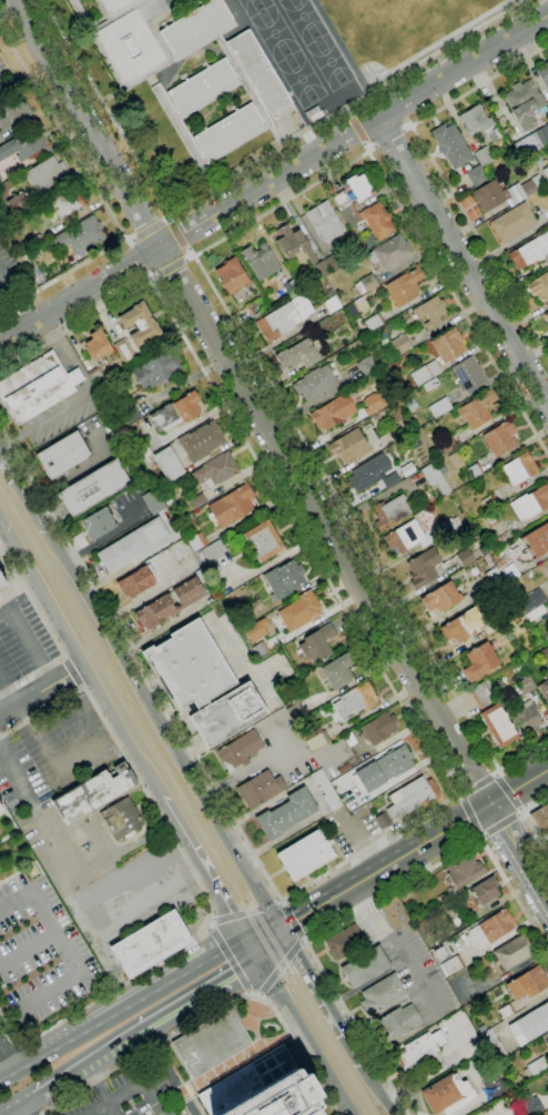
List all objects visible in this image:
park: (280, 0)
park: (254, 6)
park: (304, 20)
park: (400, 22)
park: (274, 33)
building: (128, 38)
building: (229, 54)
park: (331, 63)
building: (544, 74)
park: (302, 80)
road: (475, 87)
building: (524, 103)
building: (13, 111)
building: (180, 111)
road: (347, 111)
building: (479, 123)
road: (357, 128)
building: (541, 135)
road: (388, 138)
building: (1, 139)
building: (24, 144)
road: (366, 145)
building: (451, 145)
building: (484, 156)
road: (239, 172)
building: (545, 172)
building: (47, 173)
building: (476, 175)
building: (0, 180)
road: (274, 180)
building: (358, 186)
building: (506, 193)
road: (101, 195)
building: (18, 202)
building: (67, 204)
building: (346, 209)
road: (164, 219)
road: (169, 219)
building: (324, 221)
building: (377, 221)
building: (514, 222)
road: (149, 230)
building: (81, 235)
road: (177, 235)
building: (16, 236)
road: (131, 237)
building: (35, 241)
road: (479, 242)
building: (365, 243)
building: (298, 249)
road: (190, 252)
building: (529, 252)
building: (388, 253)
road: (190, 259)
building: (261, 261)
road: (463, 262)
building: (333, 263)
road: (170, 267)
building: (232, 275)
road: (154, 281)
building: (366, 284)
building: (404, 286)
building: (539, 286)
building: (292, 288)
building: (331, 293)
road: (14, 300)
building: (332, 304)
road: (457, 304)
building: (351, 311)
building: (430, 312)
building: (546, 315)
building: (284, 317)
building: (374, 323)
building: (140, 324)
building: (393, 325)
building: (98, 345)
building: (400, 345)
building: (448, 345)
building: (124, 352)
road: (70, 353)
building: (296, 354)
building: (366, 366)
building: (156, 369)
building: (425, 373)
building: (469, 375)
building: (315, 383)
building: (37, 387)
road: (252, 402)
building: (373, 403)
building: (439, 407)
building: (477, 409)
building: (176, 413)
building: (333, 413)
building: (126, 417)
road: (43, 419)
road: (292, 422)
building: (110, 426)
building: (396, 433)
building: (500, 438)
building: (201, 440)
building: (139, 443)
building: (445, 445)
building: (349, 446)
building: (63, 455)
building: (455, 460)
building: (169, 464)
building: (519, 469)
building: (215, 470)
building: (443, 470)
building: (475, 472)
building: (368, 473)
building: (435, 477)
road: (64, 478)
building: (390, 480)
building: (93, 488)
building: (153, 501)
building: (197, 501)
building: (489, 503)
building: (530, 503)
building: (232, 506)
building: (390, 513)
building: (491, 517)
building: (98, 524)
building: (450, 525)
building: (405, 536)
building: (264, 540)
building: (196, 541)
building: (537, 541)
road: (11, 543)
building: (132, 545)
building: (213, 550)
building: (483, 551)
building: (465, 558)
building: (423, 567)
building: (493, 577)
building: (284, 579)
building: (135, 582)
building: (1, 584)
building: (440, 598)
building: (536, 598)
building: (525, 604)
building: (169, 605)
building: (256, 606)
building: (300, 611)
building: (535, 614)
building: (458, 629)
building: (254, 631)
road: (52, 635)
road: (29, 642)
building: (317, 643)
building: (260, 650)
building: (545, 653)
building: (479, 661)
building: (191, 666)
road: (72, 671)
building: (337, 671)
road: (91, 680)
road: (1, 683)
building: (526, 685)
road: (143, 690)
building: (544, 690)
road: (41, 692)
building: (479, 696)
road: (10, 698)
building: (355, 701)
railway: (136, 709)
building: (295, 709)
railway: (130, 712)
building: (227, 714)
building: (527, 718)
building: (497, 726)
building: (379, 728)
building: (316, 739)
building: (349, 739)
building: (240, 749)
road: (522, 754)
building: (384, 768)
road: (496, 772)
road: (14, 774)
road: (476, 785)
road: (519, 788)
building: (260, 789)
building: (325, 790)
road: (448, 790)
road: (506, 791)
building: (92, 793)
road: (456, 795)
building: (408, 800)
road: (521, 810)
building: (0, 811)
building: (285, 814)
road: (468, 814)
road: (520, 814)
building: (121, 819)
building: (540, 819)
road: (529, 821)
road: (501, 825)
road: (50, 847)
road: (519, 852)
building: (305, 855)
road: (200, 866)
road: (386, 866)
building: (464, 870)
road: (194, 873)
building: (486, 890)
road: (513, 892)
road: (145, 896)
road: (14, 899)
building: (393, 912)
road: (244, 913)
road: (291, 923)
building: (491, 929)
road: (262, 930)
traffic signals: (282, 930)
road: (54, 931)
traffic signals: (243, 935)
road: (307, 939)
building: (345, 942)
road: (100, 944)
building: (150, 944)
road: (27, 946)
road: (271, 946)
road: (398, 947)
road: (252, 949)
building: (513, 952)
building: (439, 953)
road: (197, 959)
road: (229, 961)
traffic signals: (261, 963)
building: (453, 965)
building: (365, 966)
road: (281, 971)
building: (528, 983)
road: (47, 992)
building: (382, 994)
road: (206, 996)
road: (322, 997)
building: (506, 1011)
road: (210, 1012)
railway: (314, 1023)
building: (397, 1023)
building: (530, 1024)
road: (79, 1027)
railway: (326, 1027)
building: (547, 1034)
road: (309, 1037)
road: (11, 1041)
building: (212, 1043)
building: (494, 1044)
road: (6, 1046)
building: (419, 1054)
road: (99, 1062)
road: (2, 1066)
building: (537, 1066)
road: (2, 1073)
road: (171, 1074)
road: (98, 1087)
road: (134, 1089)
building: (263, 1089)
road: (378, 1089)
parking lot: (133, 1092)
building: (447, 1094)
building: (529, 1103)
road: (31, 1104)
road: (110, 1111)
road: (14, 1114)
road: (16, 1114)

